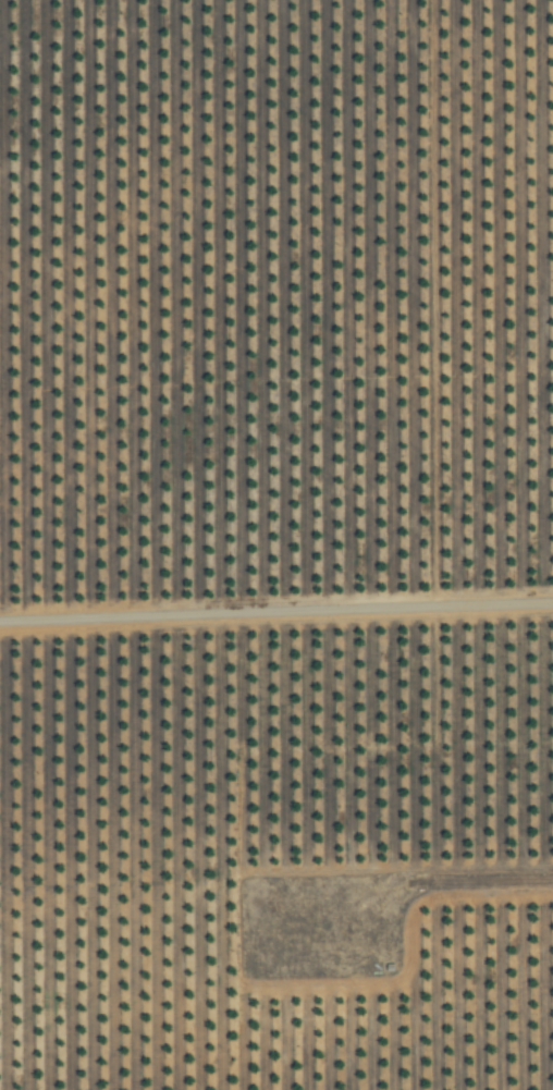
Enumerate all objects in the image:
road: (276, 612)

